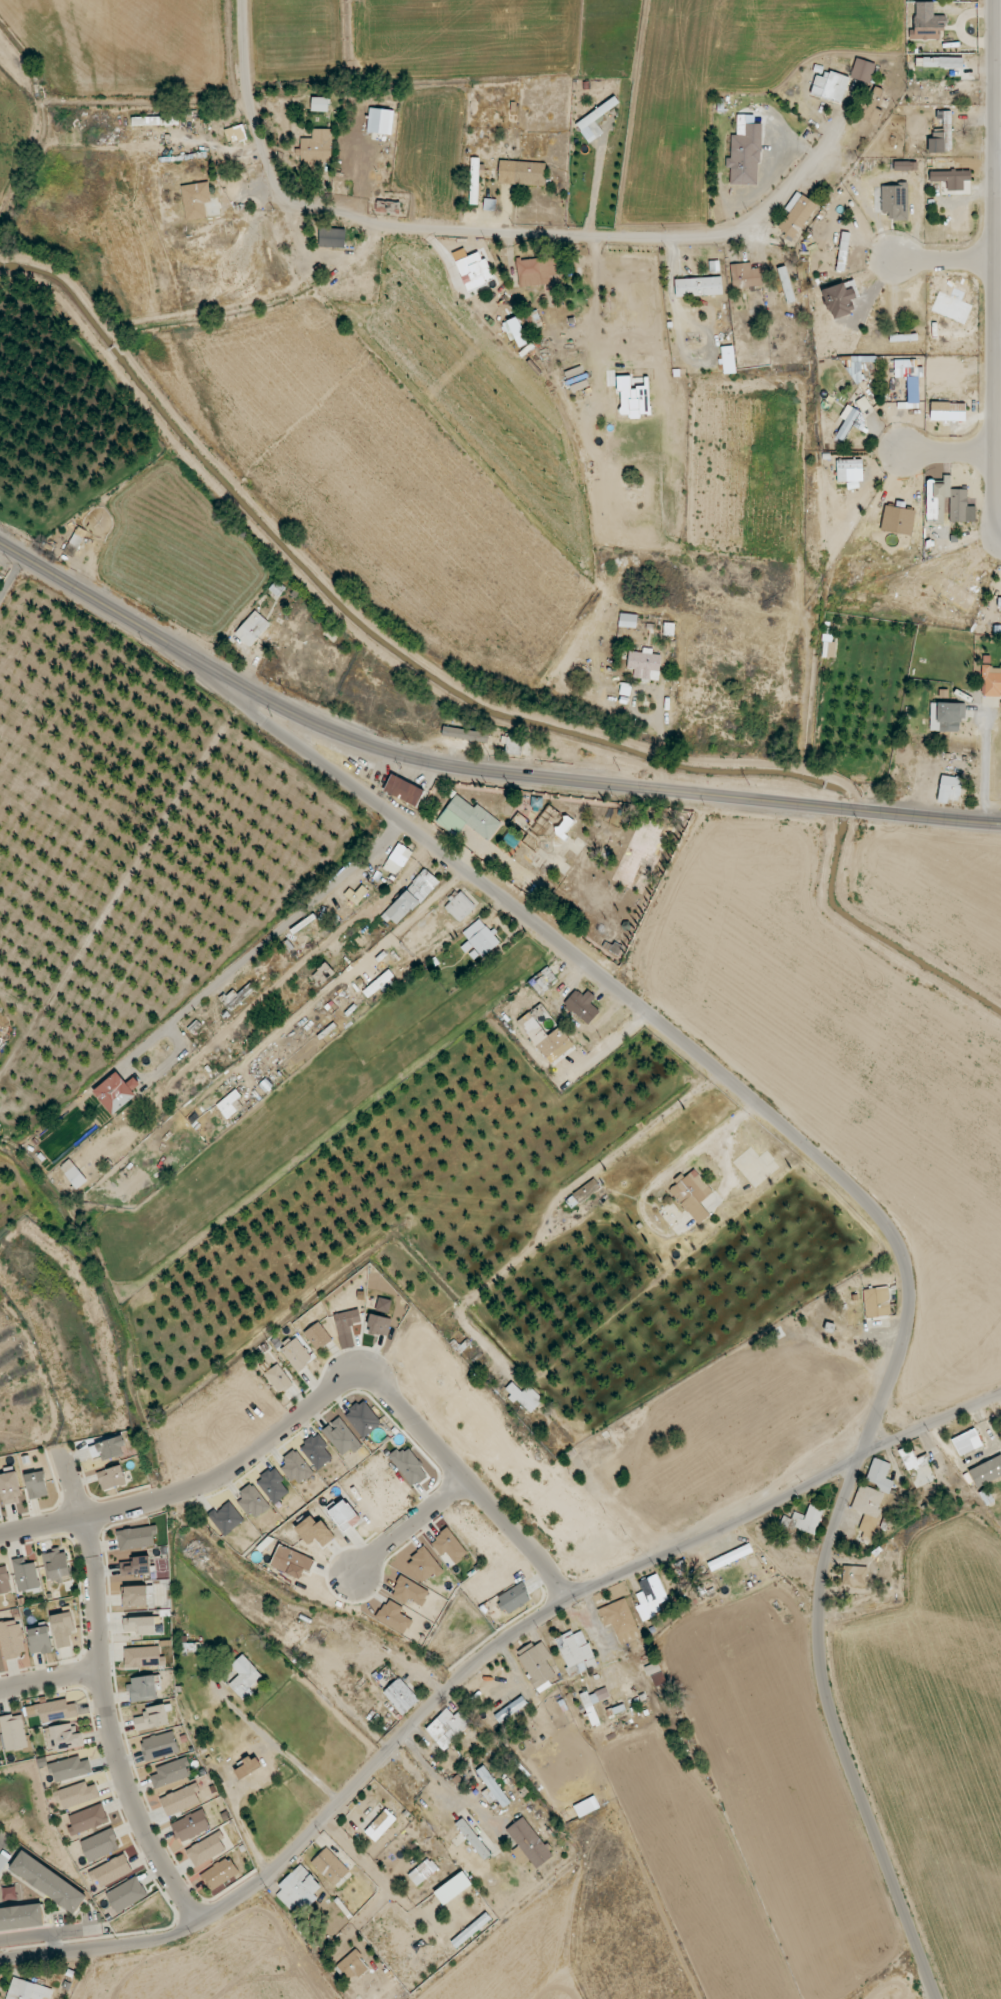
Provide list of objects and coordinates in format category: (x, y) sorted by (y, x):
building: (927, 27)
building: (939, 62)
building: (830, 86)
building: (320, 104)
building: (872, 106)
building: (599, 111)
building: (155, 121)
building: (380, 121)
road: (779, 125)
building: (235, 134)
building: (942, 134)
building: (317, 146)
building: (745, 152)
road: (814, 153)
road: (998, 165)
building: (905, 166)
building: (522, 173)
building: (951, 178)
building: (474, 181)
road: (593, 193)
building: (195, 200)
building: (895, 201)
building: (796, 214)
road: (492, 232)
building: (332, 238)
building: (839, 251)
road: (946, 258)
building: (474, 271)
building: (536, 271)
road: (996, 272)
building: (745, 276)
building: (784, 284)
road: (670, 286)
building: (698, 286)
building: (840, 299)
building: (515, 331)
road: (998, 343)
building: (728, 360)
building: (856, 369)
building: (632, 398)
building: (948, 411)
building: (850, 421)
road: (950, 452)
building: (841, 474)
building: (935, 509)
building: (898, 520)
road: (999, 545)
building: (956, 594)
building: (628, 620)
building: (252, 629)
building: (645, 664)
building: (991, 681)
road: (640, 715)
building: (946, 716)
road: (79, 734)
building: (462, 734)
building: (513, 745)
road: (985, 759)
road: (473, 768)
road: (190, 786)
building: (949, 789)
building: (403, 790)
building: (468, 818)
road: (2, 824)
building: (397, 859)
building: (411, 898)
building: (459, 906)
building: (479, 940)
building: (356, 944)
building: (323, 974)
building: (379, 985)
building: (582, 1005)
road: (644, 1010)
building: (543, 1030)
building: (116, 1092)
building: (230, 1104)
road: (663, 1110)
building: (73, 1173)
building: (590, 1187)
building: (692, 1195)
building: (877, 1302)
building: (383, 1304)
building: (379, 1325)
building: (346, 1327)
building: (317, 1336)
building: (296, 1354)
building: (278, 1378)
road: (322, 1397)
building: (524, 1397)
building: (363, 1419)
building: (341, 1437)
building: (966, 1442)
building: (108, 1449)
building: (316, 1451)
building: (911, 1458)
building: (408, 1466)
building: (296, 1467)
building: (986, 1471)
building: (879, 1475)
building: (111, 1478)
building: (36, 1485)
road: (76, 1486)
building: (273, 1486)
building: (10, 1488)
building: (252, 1501)
building: (868, 1509)
building: (342, 1514)
building: (226, 1518)
building: (803, 1520)
road: (406, 1525)
building: (315, 1532)
building: (136, 1537)
building: (449, 1546)
building: (730, 1557)
building: (291, 1562)
building: (56, 1565)
building: (423, 1565)
building: (135, 1566)
building: (26, 1574)
building: (854, 1576)
building: (4, 1579)
building: (410, 1591)
building: (135, 1596)
building: (650, 1597)
building: (513, 1598)
building: (394, 1617)
building: (620, 1621)
building: (139, 1625)
building: (63, 1629)
building: (12, 1639)
building: (39, 1639)
building: (576, 1652)
building: (143, 1656)
road: (477, 1662)
building: (538, 1665)
road: (48, 1675)
building: (244, 1678)
building: (143, 1688)
building: (401, 1696)
building: (511, 1709)
building: (52, 1710)
building: (591, 1713)
building: (152, 1718)
building: (448, 1727)
building: (14, 1732)
road: (108, 1732)
road: (841, 1734)
building: (62, 1737)
building: (159, 1746)
building: (0, 1749)
road: (280, 1753)
building: (248, 1767)
building: (70, 1769)
building: (171, 1773)
building: (492, 1788)
building: (77, 1795)
building: (180, 1799)
building: (586, 1806)
road: (235, 1807)
building: (88, 1819)
building: (380, 1825)
building: (191, 1826)
road: (2, 1836)
building: (473, 1839)
building: (528, 1844)
building: (100, 1845)
building: (206, 1849)
building: (330, 1866)
building: (110, 1871)
building: (423, 1872)
building: (220, 1874)
building: (48, 1882)
building: (297, 1888)
building: (453, 1888)
building: (126, 1894)
building: (21, 1918)
road: (50, 1934)
building: (355, 1964)
building: (27, 1990)

